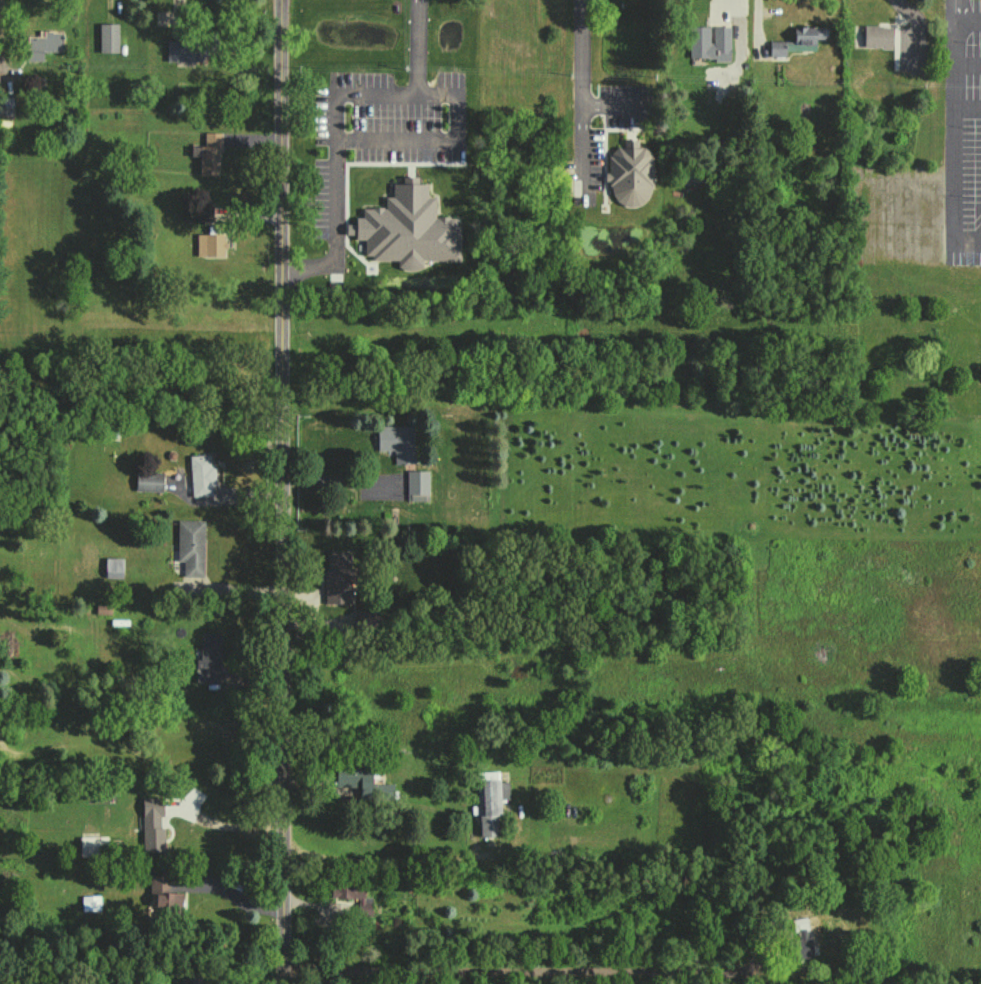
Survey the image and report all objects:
road: (739, 23)
road: (954, 32)
building: (877, 36)
building: (108, 38)
building: (797, 41)
building: (43, 44)
road: (416, 47)
building: (190, 49)
building: (711, 54)
road: (580, 83)
road: (362, 94)
building: (6, 105)
building: (208, 154)
building: (630, 174)
building: (408, 229)
building: (397, 442)
building: (201, 475)
road: (335, 478)
building: (148, 481)
building: (417, 485)
road: (278, 492)
building: (190, 546)
building: (113, 567)
building: (337, 576)
building: (363, 782)
building: (490, 803)
building: (152, 824)
road: (226, 825)
building: (93, 846)
building: (163, 894)
building: (353, 894)
road: (229, 897)
building: (197, 978)

